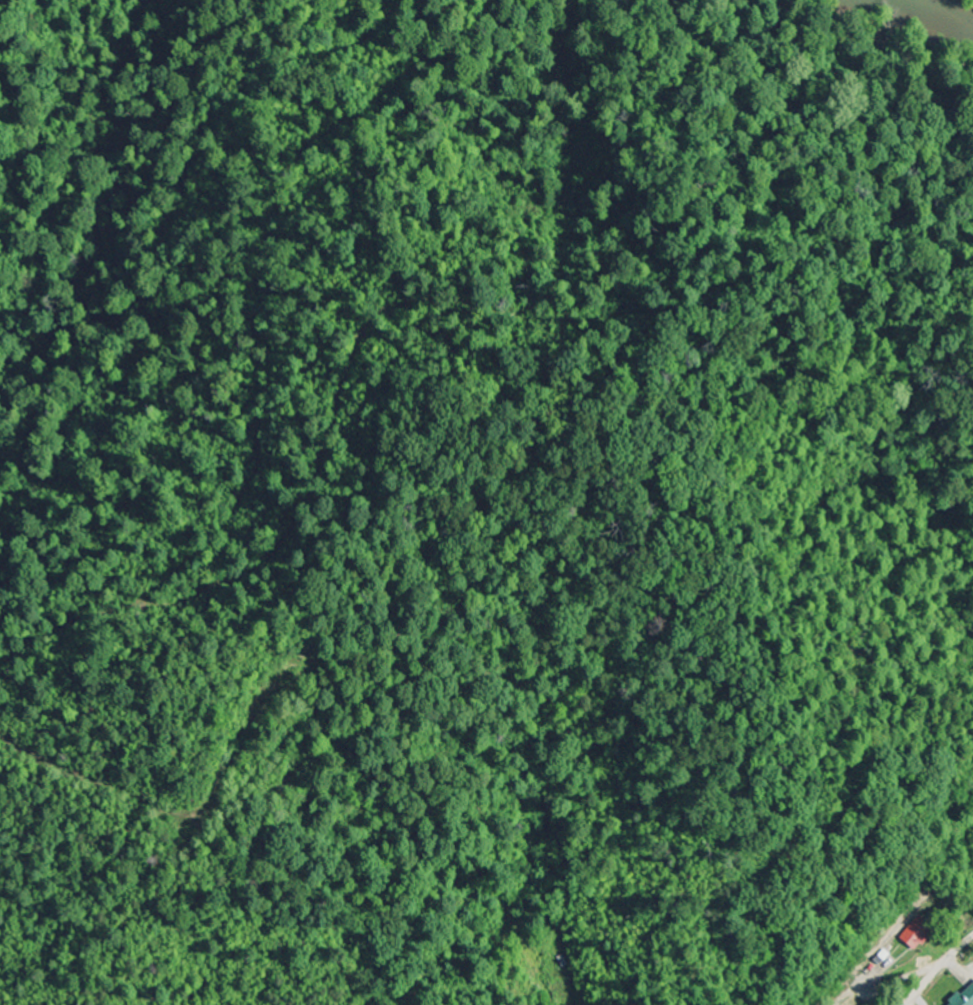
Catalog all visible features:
river: (942, 7)
building: (919, 934)
road: (938, 970)
building: (965, 998)

